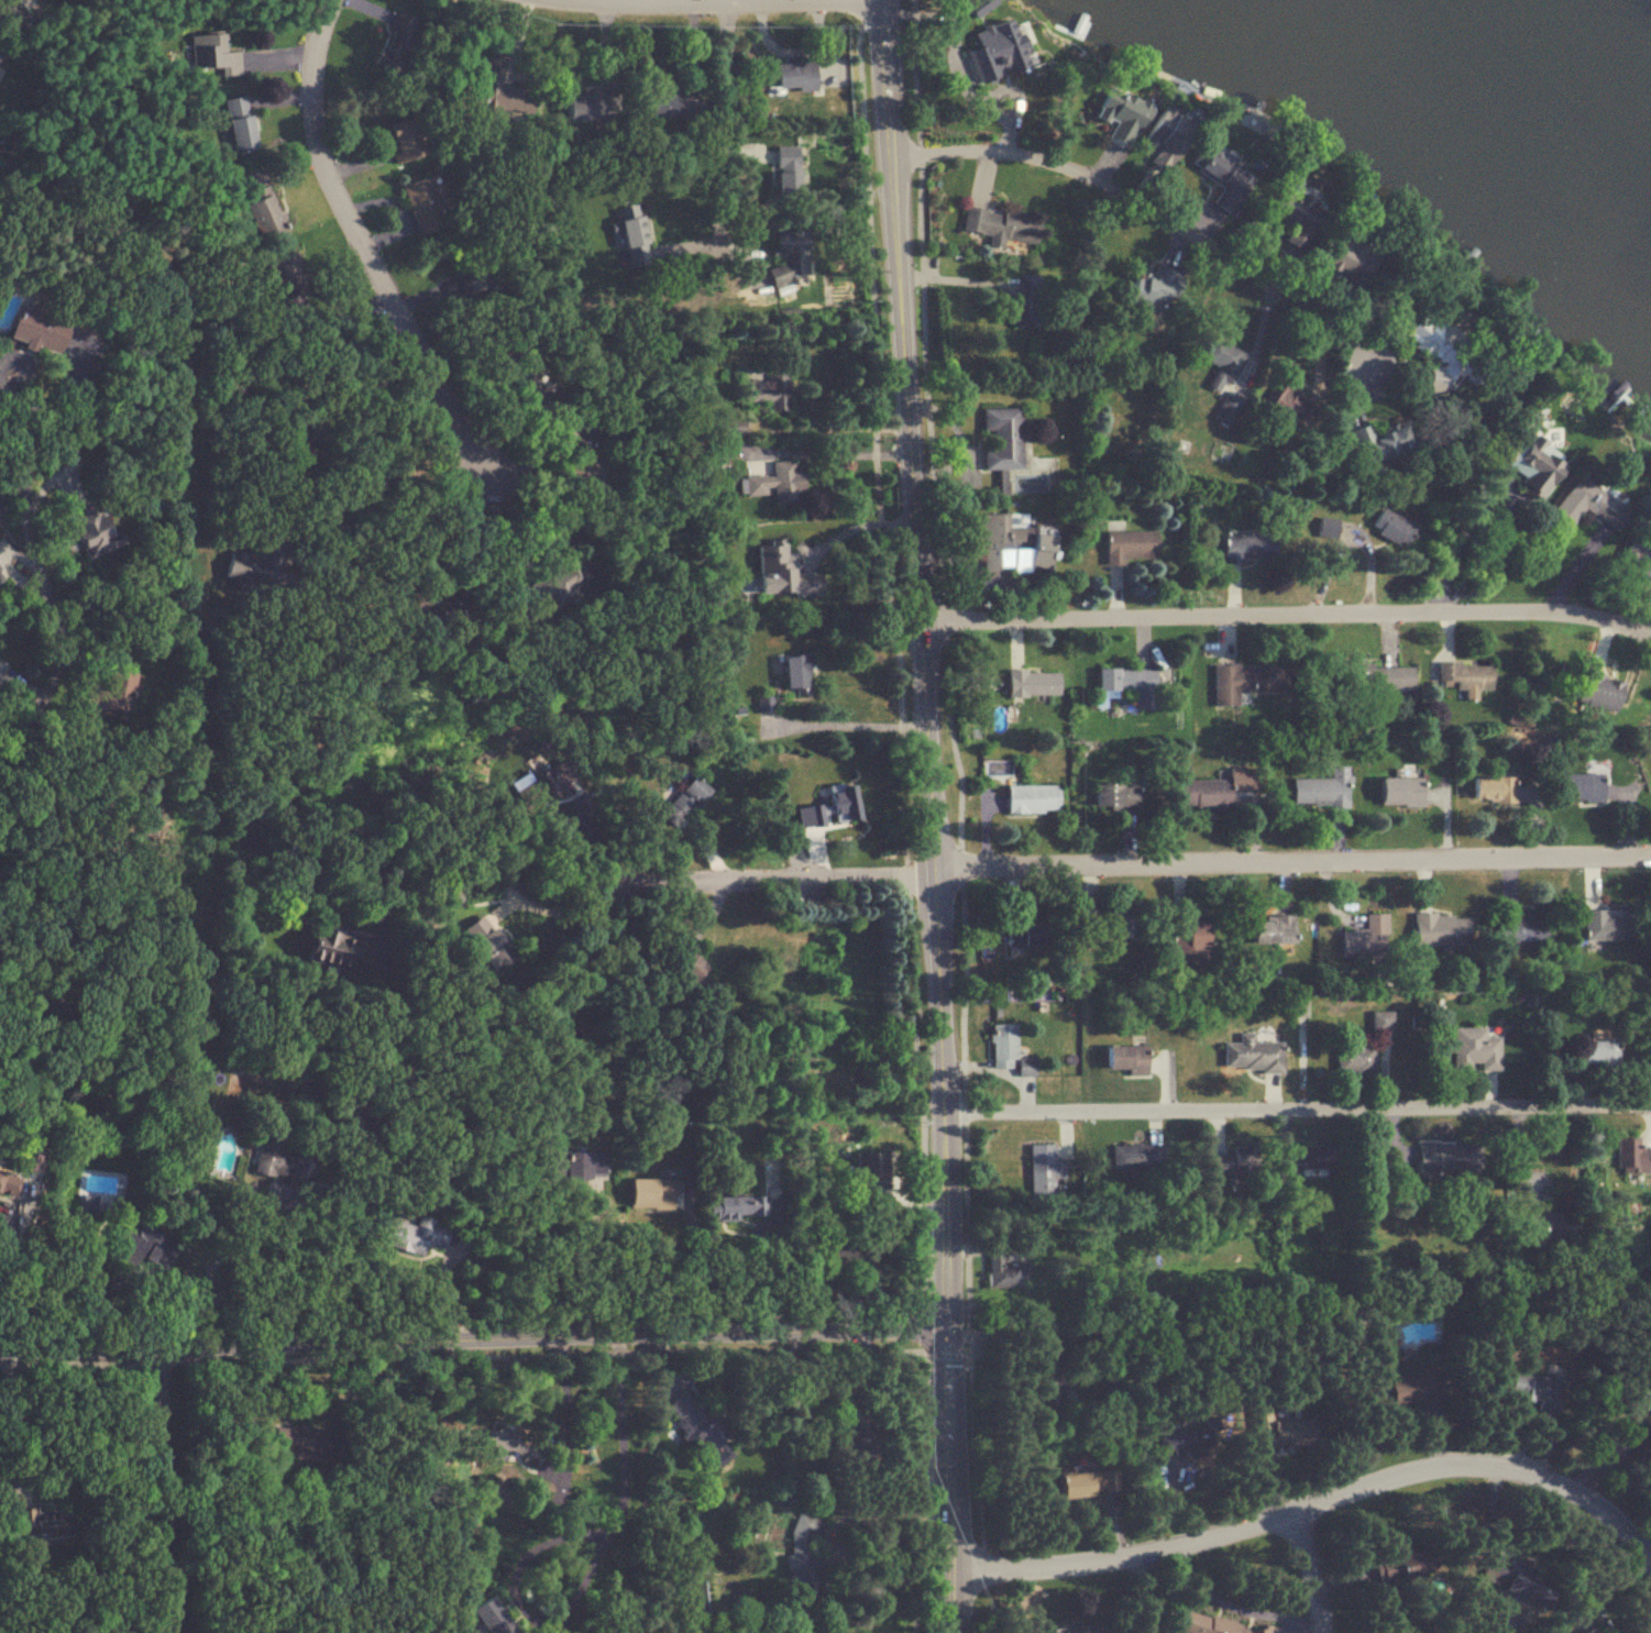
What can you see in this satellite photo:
road: (690, 1)
building: (16, 2)
building: (993, 27)
building: (396, 41)
building: (212, 54)
river: (1595, 65)
building: (789, 76)
building: (500, 89)
building: (656, 104)
building: (588, 106)
building: (1118, 113)
building: (238, 123)
building: (1163, 137)
building: (401, 139)
road: (719, 139)
building: (785, 172)
building: (1220, 175)
building: (421, 206)
building: (264, 213)
road: (1159, 214)
building: (1291, 216)
building: (1000, 225)
building: (631, 234)
road: (360, 249)
building: (789, 257)
building: (1349, 261)
building: (282, 271)
building: (463, 283)
road: (954, 285)
building: (1151, 290)
building: (1025, 302)
building: (26, 329)
building: (1437, 351)
building: (1221, 362)
road: (373, 379)
building: (525, 382)
building: (769, 391)
building: (1291, 406)
building: (1228, 408)
road: (834, 427)
building: (1001, 438)
building: (1382, 441)
road: (833, 453)
building: (573, 459)
building: (1530, 463)
road: (381, 476)
building: (775, 484)
building: (1587, 505)
road: (1478, 517)
road: (856, 527)
building: (1389, 527)
building: (90, 529)
road: (10, 539)
road: (502, 543)
building: (1129, 545)
building: (1011, 547)
building: (1246, 547)
building: (1637, 555)
building: (255, 566)
building: (0, 577)
building: (550, 588)
building: (438, 599)
road: (1288, 617)
road: (896, 662)
building: (794, 672)
building: (1463, 676)
building: (1124, 678)
building: (1371, 678)
building: (1245, 682)
building: (1031, 683)
building: (1597, 691)
building: (108, 694)
road: (950, 713)
road: (848, 725)
building: (543, 784)
building: (1578, 787)
building: (1489, 788)
building: (1321, 790)
building: (1398, 791)
building: (1201, 794)
building: (1113, 796)
building: (1030, 798)
building: (682, 801)
road: (932, 816)
road: (482, 861)
road: (1292, 861)
road: (779, 873)
road: (566, 907)
building: (1611, 925)
building: (1108, 928)
building: (1526, 928)
building: (1440, 929)
building: (1270, 931)
building: (1023, 935)
building: (1187, 937)
building: (1365, 939)
building: (485, 945)
building: (335, 951)
building: (684, 962)
building: (1474, 1050)
building: (1008, 1051)
building: (1597, 1053)
building: (1253, 1056)
building: (1354, 1059)
building: (1123, 1060)
road: (1298, 1107)
building: (1631, 1154)
building: (1137, 1157)
building: (1445, 1158)
building: (1306, 1159)
building: (1234, 1162)
building: (1039, 1163)
building: (276, 1165)
building: (580, 1166)
building: (868, 1176)
building: (4, 1179)
building: (650, 1194)
building: (735, 1207)
road: (298, 1213)
building: (1547, 1226)
building: (411, 1237)
building: (146, 1245)
road: (12, 1259)
road: (562, 1261)
building: (1002, 1268)
road: (692, 1271)
road: (441, 1291)
road: (474, 1339)
road: (462, 1356)
building: (1049, 1372)
building: (1533, 1388)
building: (1409, 1389)
road: (568, 1404)
road: (5, 1413)
building: (703, 1426)
building: (1287, 1428)
road: (874, 1433)
building: (299, 1439)
building: (1179, 1439)
building: (510, 1447)
road: (973, 1463)
building: (1082, 1482)
road: (164, 1489)
road: (926, 1494)
road: (892, 1511)
road: (1296, 1512)
building: (34, 1524)
road: (1638, 1543)
building: (804, 1544)
building: (1408, 1565)
road: (1316, 1570)
road: (584, 1577)
building: (1512, 1578)
road: (1141, 1593)
road: (1235, 1608)
building: (488, 1617)
building: (1208, 1623)
building: (1068, 1630)
building: (1591, 1630)

